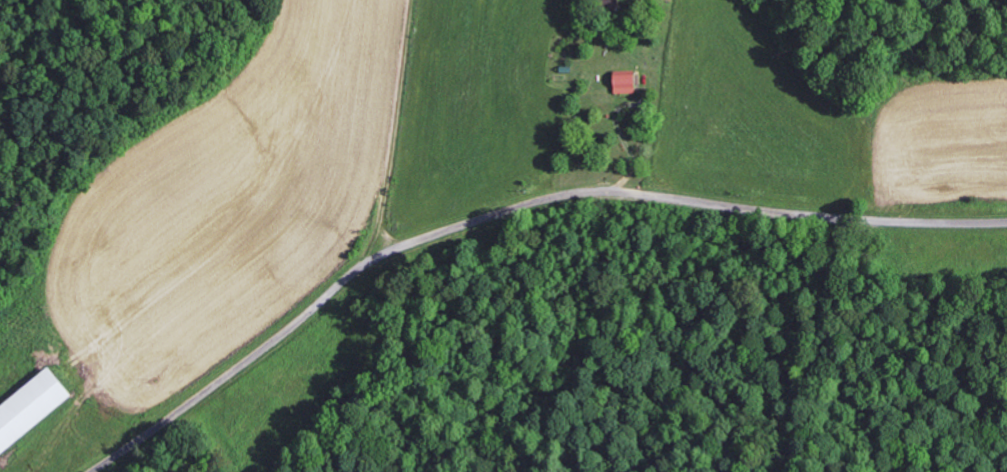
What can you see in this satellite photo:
road: (391, 141)
road: (512, 211)
road: (394, 239)
building: (27, 404)

